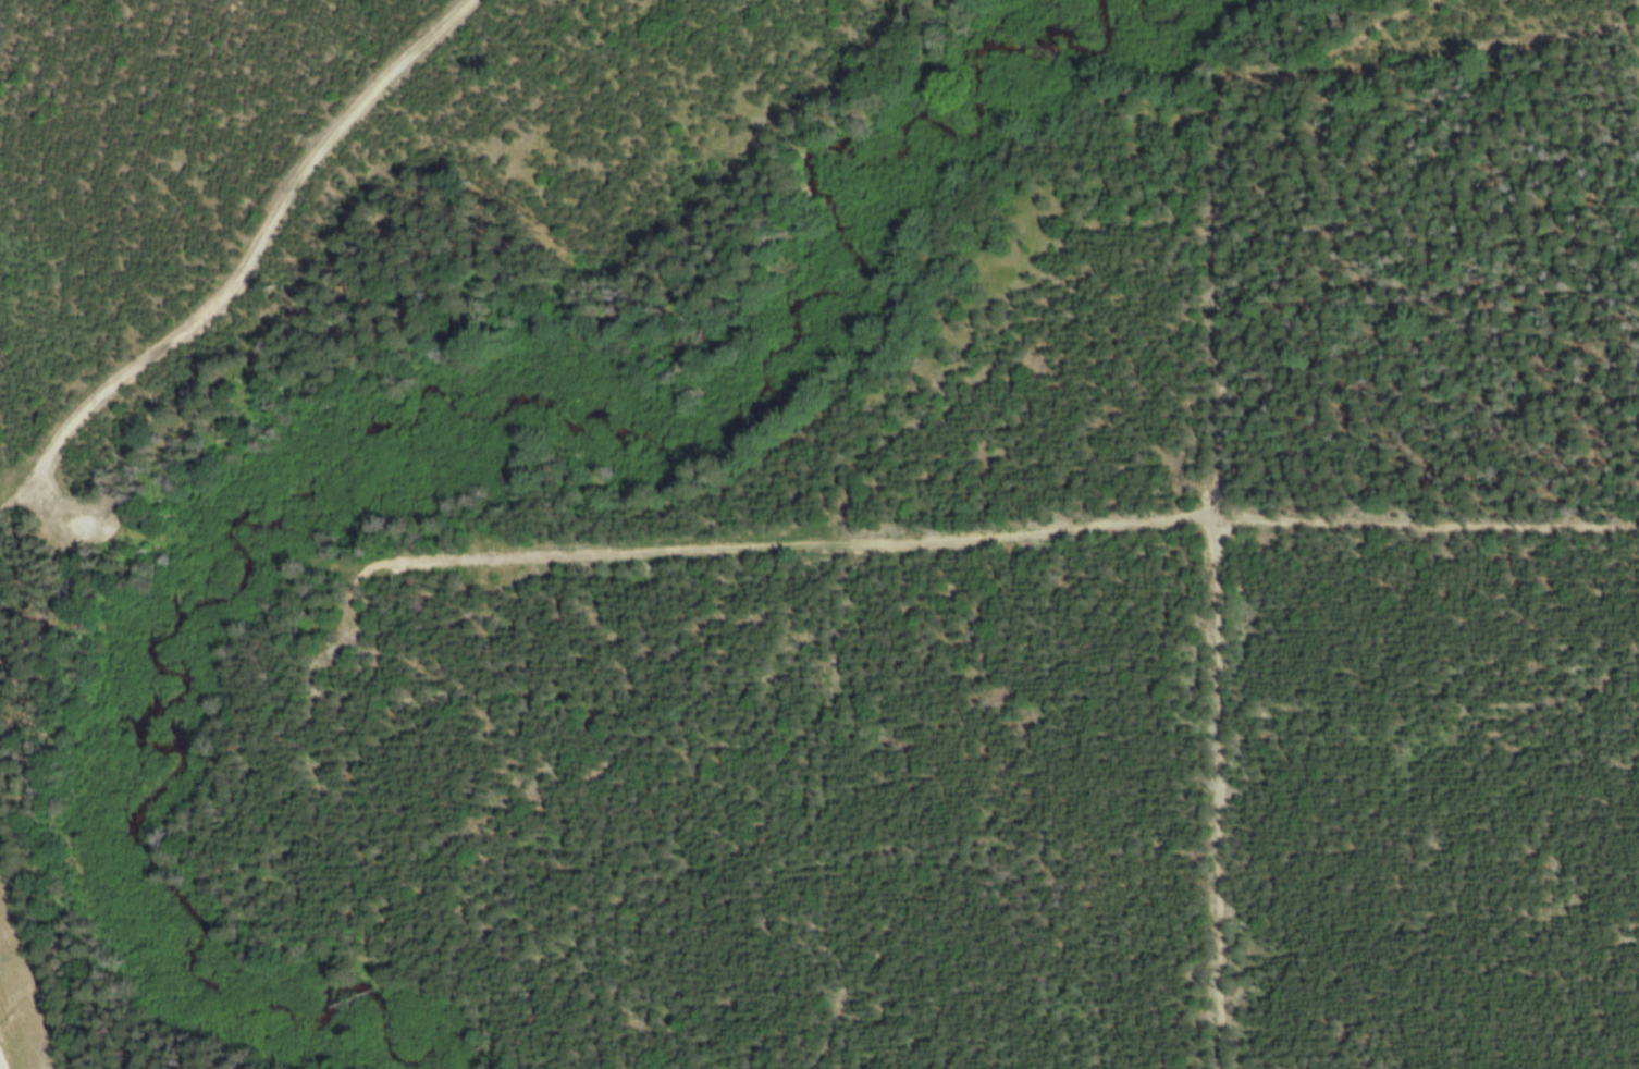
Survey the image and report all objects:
road: (235, 266)
road: (1205, 456)
road: (1424, 520)

